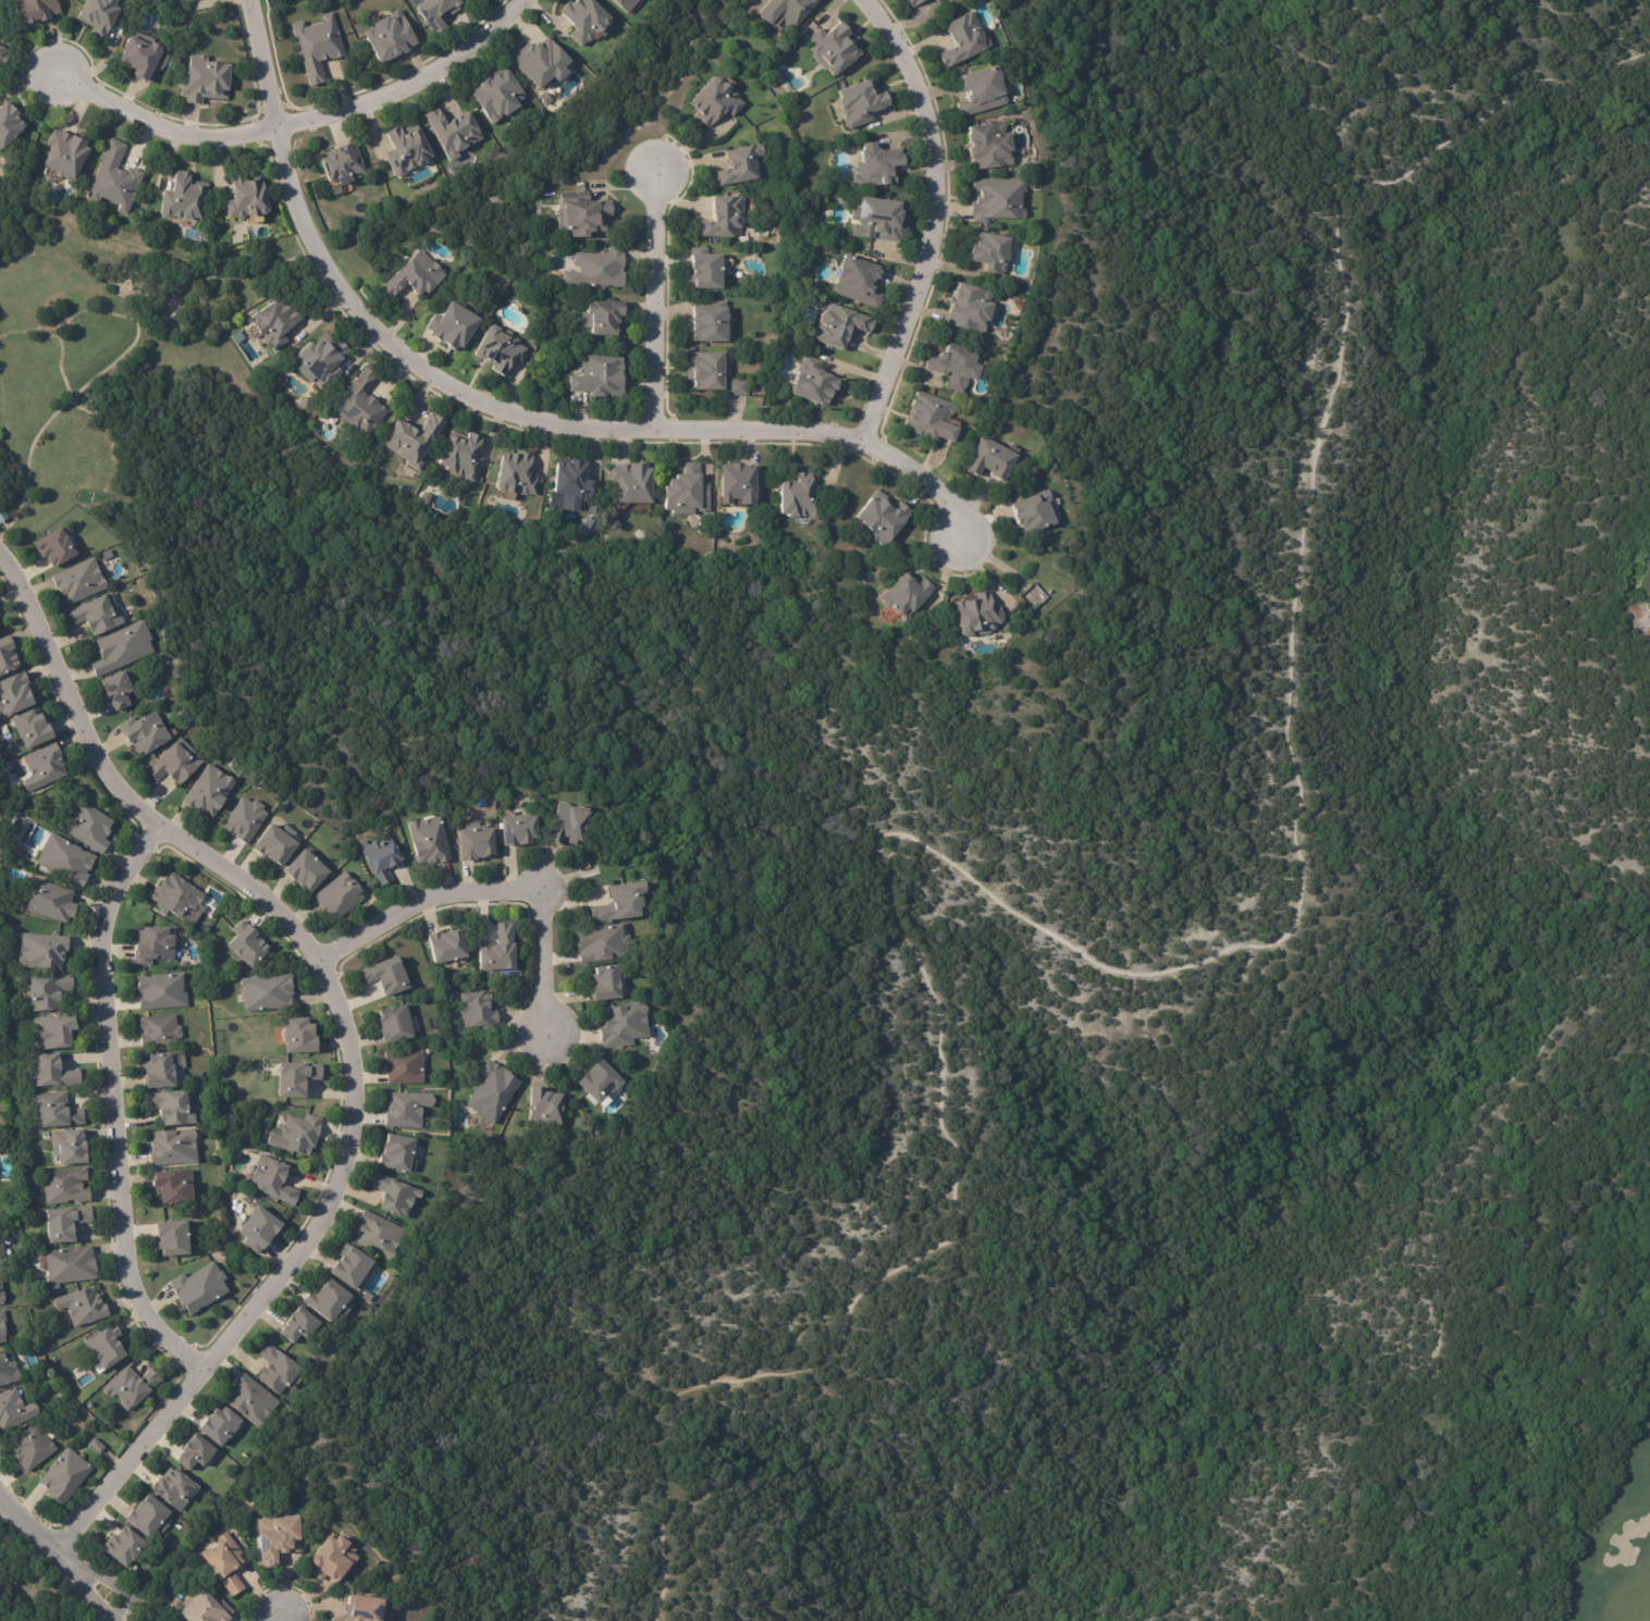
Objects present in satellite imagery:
building: (178, 0)
building: (640, 0)
building: (935, 0)
building: (187, 1)
building: (939, 1)
building: (916, 2)
building: (624, 4)
building: (787, 11)
building: (33, 12)
building: (435, 12)
building: (98, 15)
building: (584, 21)
building: (390, 38)
building: (963, 40)
building: (317, 47)
building: (832, 49)
building: (2, 58)
building: (141, 61)
building: (541, 64)
building: (204, 79)
building: (981, 91)
building: (497, 98)
building: (546, 99)
building: (714, 102)
building: (861, 102)
building: (10, 125)
road: (303, 128)
building: (453, 135)
building: (990, 146)
building: (406, 151)
building: (65, 153)
building: (342, 164)
building: (739, 166)
building: (877, 166)
building: (114, 181)
building: (183, 199)
building: (246, 199)
building: (998, 201)
building: (582, 216)
building: (723, 219)
road: (938, 219)
building: (877, 220)
building: (256, 233)
building: (990, 253)
building: (598, 271)
building: (702, 271)
building: (415, 279)
building: (858, 283)
road: (656, 302)
building: (970, 310)
building: (603, 318)
building: (273, 324)
building: (711, 324)
building: (453, 329)
building: (840, 329)
building: (498, 350)
building: (320, 361)
building: (955, 369)
building: (706, 372)
building: (599, 378)
building: (815, 384)
building: (737, 388)
building: (304, 400)
building: (360, 408)
road: (504, 414)
building: (932, 421)
building: (412, 442)
building: (461, 457)
building: (989, 461)
building: (516, 475)
building: (570, 480)
building: (632, 484)
building: (741, 486)
building: (687, 493)
building: (799, 499)
building: (1033, 512)
building: (2, 513)
building: (884, 518)
building: (52, 544)
building: (103, 553)
building: (77, 579)
park: (1640, 579)
building: (907, 596)
building: (1647, 597)
building: (1036, 608)
building: (97, 615)
building: (978, 616)
building: (122, 648)
building: (7, 657)
building: (115, 690)
building: (13, 694)
building: (30, 729)
building: (144, 732)
building: (175, 763)
building: (44, 767)
building: (208, 791)
building: (245, 820)
building: (568, 822)
building: (88, 828)
building: (519, 830)
building: (430, 841)
building: (476, 842)
building: (276, 844)
building: (380, 857)
building: (64, 861)
building: (306, 871)
road: (491, 887)
building: (176, 898)
building: (337, 898)
building: (49, 902)
building: (623, 904)
building: (603, 944)
building: (153, 945)
building: (246, 945)
building: (447, 948)
building: (41, 952)
building: (498, 952)
building: (386, 978)
building: (605, 985)
building: (160, 992)
building: (44, 993)
building: (267, 993)
building: (477, 1011)
building: (394, 1025)
building: (624, 1026)
building: (158, 1031)
building: (54, 1032)
building: (297, 1036)
road: (346, 1037)
building: (404, 1068)
building: (161, 1071)
building: (49, 1074)
building: (295, 1079)
building: (601, 1086)
building: (493, 1093)
building: (172, 1109)
building: (545, 1109)
building: (407, 1111)
building: (54, 1112)
road: (114, 1113)
building: (297, 1135)
building: (172, 1147)
building: (71, 1149)
building: (397, 1154)
building: (272, 1181)
building: (172, 1187)
building: (64, 1188)
building: (394, 1198)
building: (63, 1225)
building: (258, 1230)
building: (375, 1233)
building: (171, 1240)
park: (1645, 1243)
building: (1, 1253)
building: (69, 1265)
building: (350, 1270)
building: (198, 1290)
building: (0, 1297)
building: (329, 1303)
building: (82, 1309)
building: (1, 1327)
building: (299, 1327)
building: (106, 1349)
building: (8, 1369)
building: (276, 1373)
building: (130, 1389)
building: (251, 1401)
building: (13, 1412)
building: (219, 1426)
building: (96, 1446)
building: (30, 1450)
building: (195, 1453)
building: (64, 1477)
building: (175, 1492)
building: (149, 1519)
building: (276, 1537)
park: (1615, 1542)
building: (123, 1548)
road: (71, 1556)
building: (332, 1559)
building: (25, 1560)
building: (224, 1562)
building: (359, 1608)
building: (206, 1609)
road: (278, 1617)

